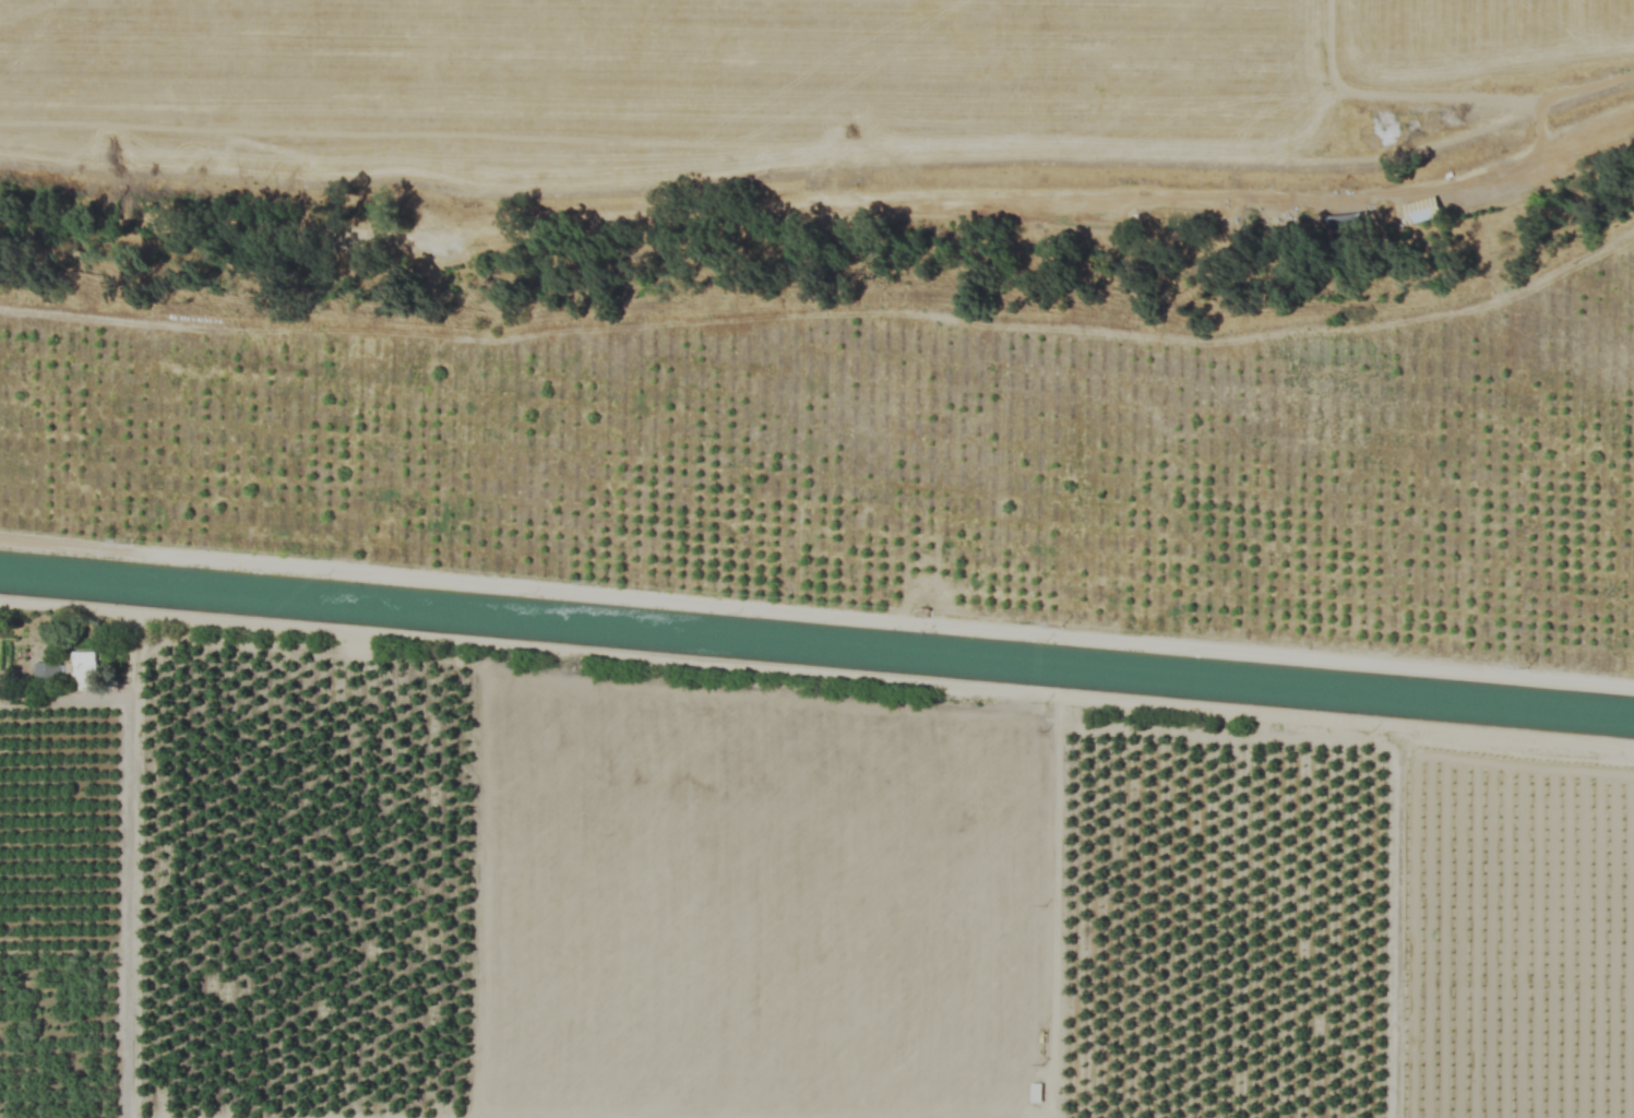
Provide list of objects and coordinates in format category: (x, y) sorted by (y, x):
crop: (775, 85)
crop: (822, 306)
building: (68, 671)
building: (56, 702)
road: (123, 882)

